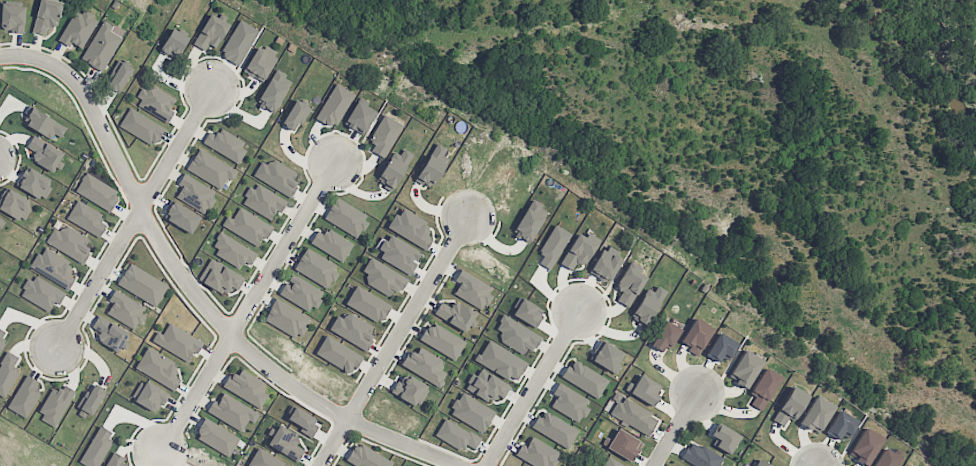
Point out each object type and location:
building: (46, 16)
building: (13, 18)
building: (78, 29)
building: (211, 32)
building: (239, 42)
building: (174, 43)
building: (102, 45)
road: (14, 55)
building: (260, 63)
building: (118, 76)
building: (274, 90)
building: (156, 102)
building: (335, 105)
building: (295, 115)
building: (43, 124)
building: (141, 126)
building: (385, 135)
building: (225, 144)
building: (45, 154)
building: (432, 166)
building: (210, 169)
building: (394, 169)
building: (277, 176)
building: (34, 183)
building: (97, 192)
building: (195, 193)
building: (263, 201)
building: (15, 205)
building: (181, 216)
road: (137, 217)
building: (346, 217)
building: (87, 219)
building: (530, 221)
building: (1, 222)
building: (247, 227)
building: (411, 228)
building: (68, 242)
building: (332, 244)
building: (233, 251)
building: (578, 251)
building: (399, 254)
building: (606, 264)
building: (53, 267)
building: (316, 268)
building: (220, 277)
building: (383, 277)
building: (142, 284)
building: (629, 285)
building: (472, 289)
building: (301, 292)
building: (42, 293)
road: (201, 300)
building: (367, 304)
building: (648, 304)
road: (249, 308)
building: (126, 309)
building: (455, 314)
building: (287, 318)
building: (353, 329)
building: (109, 332)
building: (516, 335)
building: (696, 335)
building: (2, 337)
building: (665, 337)
road: (395, 340)
building: (442, 341)
building: (177, 342)
building: (720, 348)
building: (338, 354)
building: (501, 361)
building: (424, 365)
building: (158, 368)
building: (745, 368)
building: (8, 372)
building: (584, 378)
building: (486, 386)
building: (247, 387)
building: (763, 388)
building: (410, 389)
road: (534, 389)
building: (643, 389)
building: (150, 396)
building: (25, 397)
building: (91, 398)
building: (569, 402)
building: (793, 402)
building: (55, 404)
building: (232, 411)
building: (471, 412)
building: (816, 414)
building: (634, 415)
building: (841, 425)
building: (555, 429)
road: (676, 430)
building: (456, 435)
building: (216, 437)
building: (724, 438)
building: (285, 443)
building: (624, 445)
building: (866, 446)
building: (97, 447)
building: (537, 453)
building: (701, 456)
building: (366, 457)
building: (886, 458)
building: (266, 460)
building: (115, 461)
building: (610, 462)
building: (760, 463)

